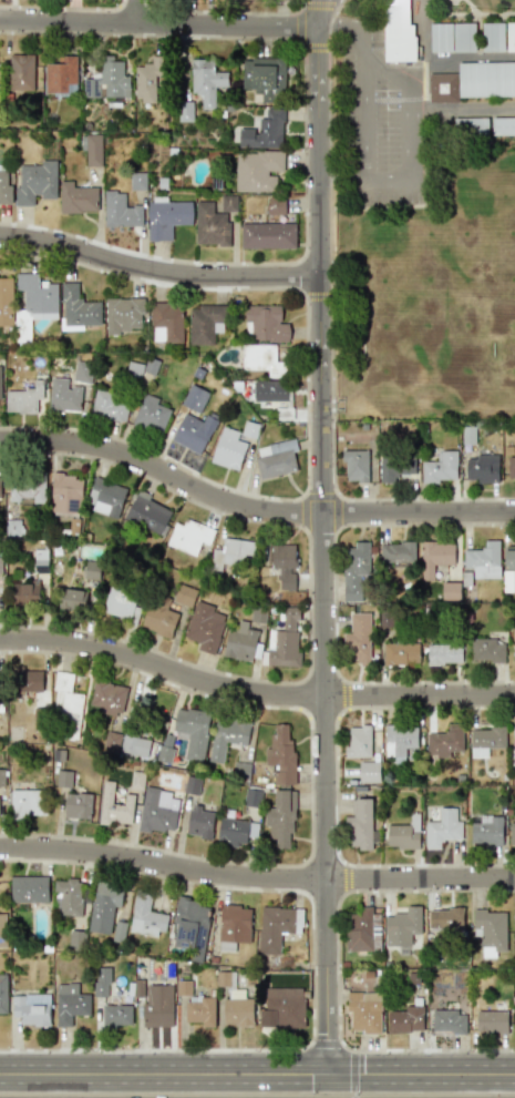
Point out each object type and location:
road: (338, 7)
road: (140, 11)
road: (330, 19)
road: (158, 23)
road: (346, 29)
building: (399, 30)
building: (511, 35)
building: (463, 37)
building: (493, 37)
building: (440, 38)
road: (316, 47)
road: (383, 69)
building: (21, 72)
building: (61, 75)
building: (264, 78)
building: (486, 79)
building: (107, 80)
building: (146, 81)
building: (206, 81)
building: (442, 88)
road: (463, 109)
road: (359, 116)
building: (503, 125)
building: (264, 131)
parking lot: (372, 138)
building: (93, 150)
road: (305, 152)
road: (413, 155)
building: (257, 170)
road: (339, 176)
building: (35, 182)
building: (4, 186)
building: (76, 199)
building: (228, 203)
building: (276, 206)
building: (120, 210)
building: (166, 218)
building: (210, 225)
building: (267, 235)
road: (158, 270)
building: (38, 296)
building: (6, 302)
building: (78, 308)
building: (124, 314)
building: (166, 323)
building: (205, 323)
building: (265, 324)
road: (331, 349)
building: (261, 359)
building: (81, 372)
building: (0, 378)
building: (270, 390)
building: (63, 396)
building: (23, 398)
building: (194, 398)
building: (110, 405)
building: (151, 414)
building: (194, 431)
building: (514, 447)
building: (228, 449)
building: (276, 458)
building: (356, 465)
building: (394, 467)
building: (441, 467)
building: (511, 467)
building: (482, 468)
building: (0, 484)
building: (27, 487)
building: (65, 494)
building: (105, 497)
road: (251, 509)
building: (147, 514)
building: (12, 527)
building: (189, 536)
road: (323, 539)
building: (396, 552)
building: (509, 556)
building: (435, 557)
building: (40, 560)
building: (483, 560)
building: (0, 563)
building: (284, 565)
building: (356, 571)
building: (508, 580)
building: (450, 590)
building: (23, 594)
building: (184, 596)
building: (74, 598)
building: (121, 602)
building: (159, 617)
building: (205, 627)
building: (357, 637)
building: (284, 641)
building: (240, 642)
building: (487, 650)
building: (514, 650)
building: (401, 653)
building: (444, 653)
building: (29, 680)
road: (254, 692)
building: (109, 698)
building: (66, 709)
building: (192, 732)
building: (227, 736)
building: (358, 741)
building: (400, 741)
building: (444, 741)
building: (485, 741)
building: (514, 741)
building: (112, 742)
building: (134, 745)
building: (165, 748)
building: (281, 754)
building: (241, 770)
building: (369, 772)
building: (1, 777)
building: (63, 777)
building: (27, 802)
building: (78, 805)
building: (114, 806)
building: (156, 811)
building: (281, 820)
building: (199, 822)
building: (360, 825)
building: (442, 828)
building: (486, 830)
building: (231, 832)
building: (512, 833)
road: (256, 881)
building: (29, 888)
building: (68, 895)
building: (104, 907)
building: (146, 915)
building: (445, 917)
building: (190, 925)
building: (234, 926)
building: (274, 927)
building: (403, 928)
building: (2, 929)
building: (119, 929)
building: (363, 931)
building: (490, 931)
road: (311, 969)
road: (337, 969)
building: (356, 976)
building: (101, 982)
building: (3, 992)
building: (239, 998)
building: (70, 1004)
building: (286, 1006)
building: (30, 1009)
building: (200, 1010)
building: (364, 1011)
building: (238, 1014)
building: (116, 1015)
building: (405, 1019)
building: (491, 1020)
building: (449, 1021)
road: (257, 1079)

